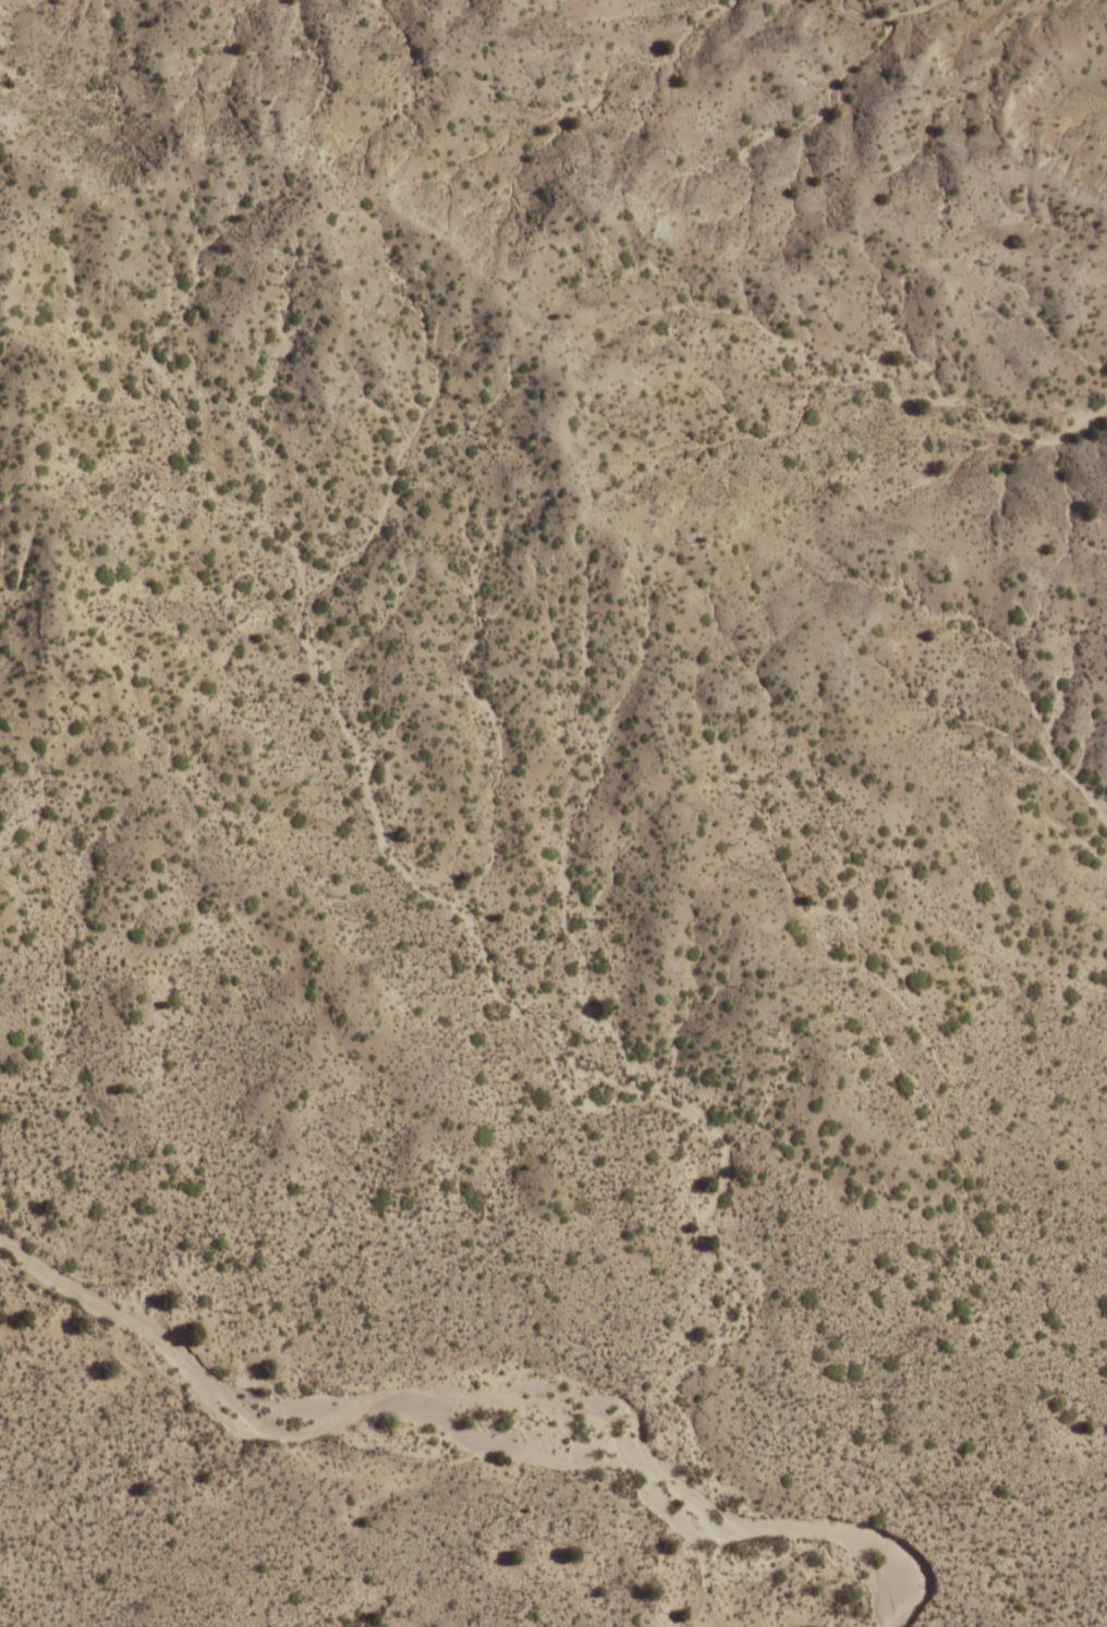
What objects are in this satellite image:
river: (467, 1431)

